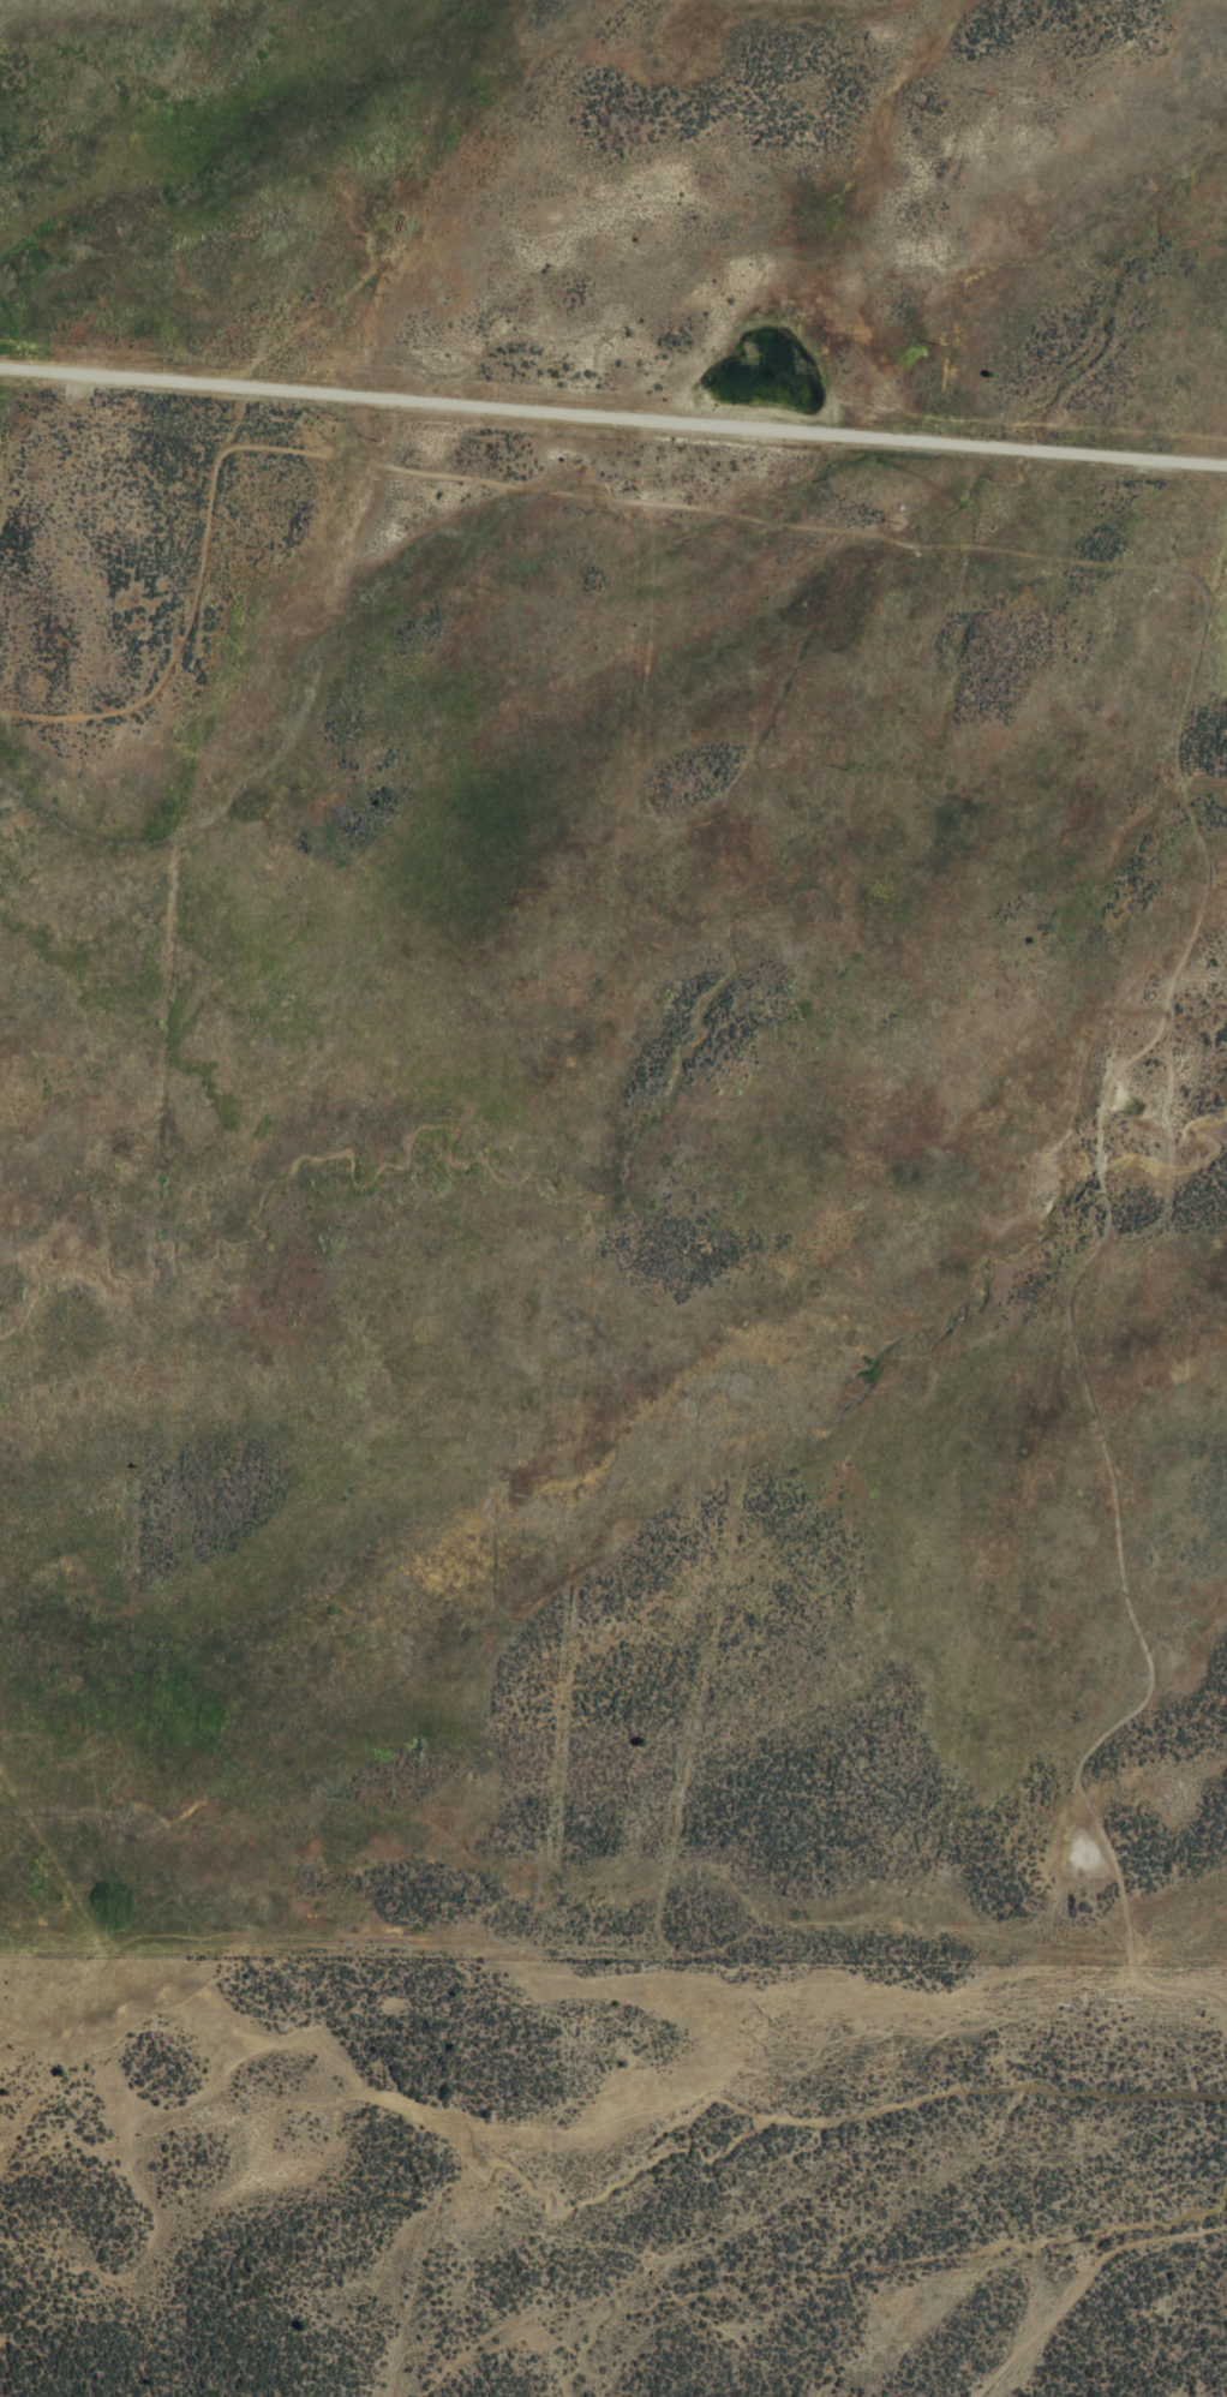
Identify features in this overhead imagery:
road: (612, 417)
road: (234, 419)
road: (192, 599)
crop: (613, 1198)
road: (1083, 2279)

